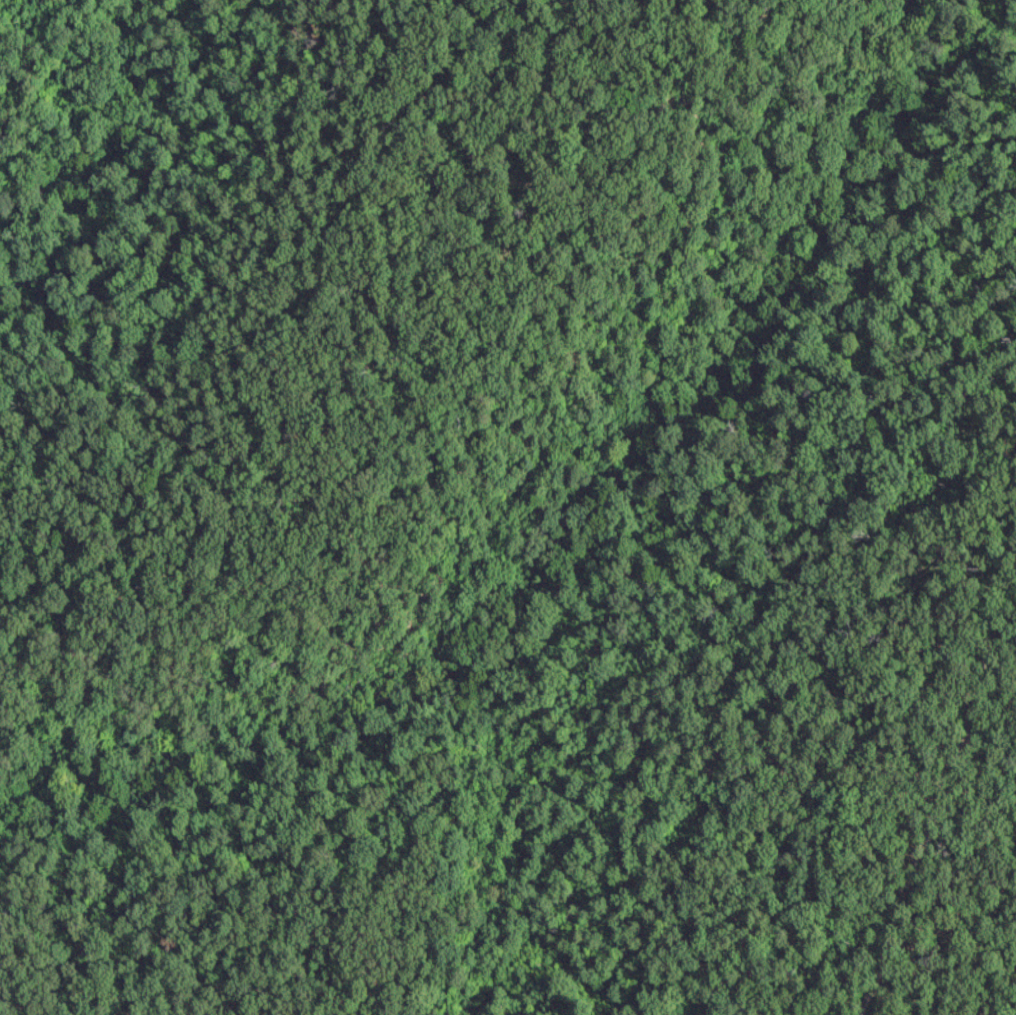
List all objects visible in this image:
road: (931, 795)

